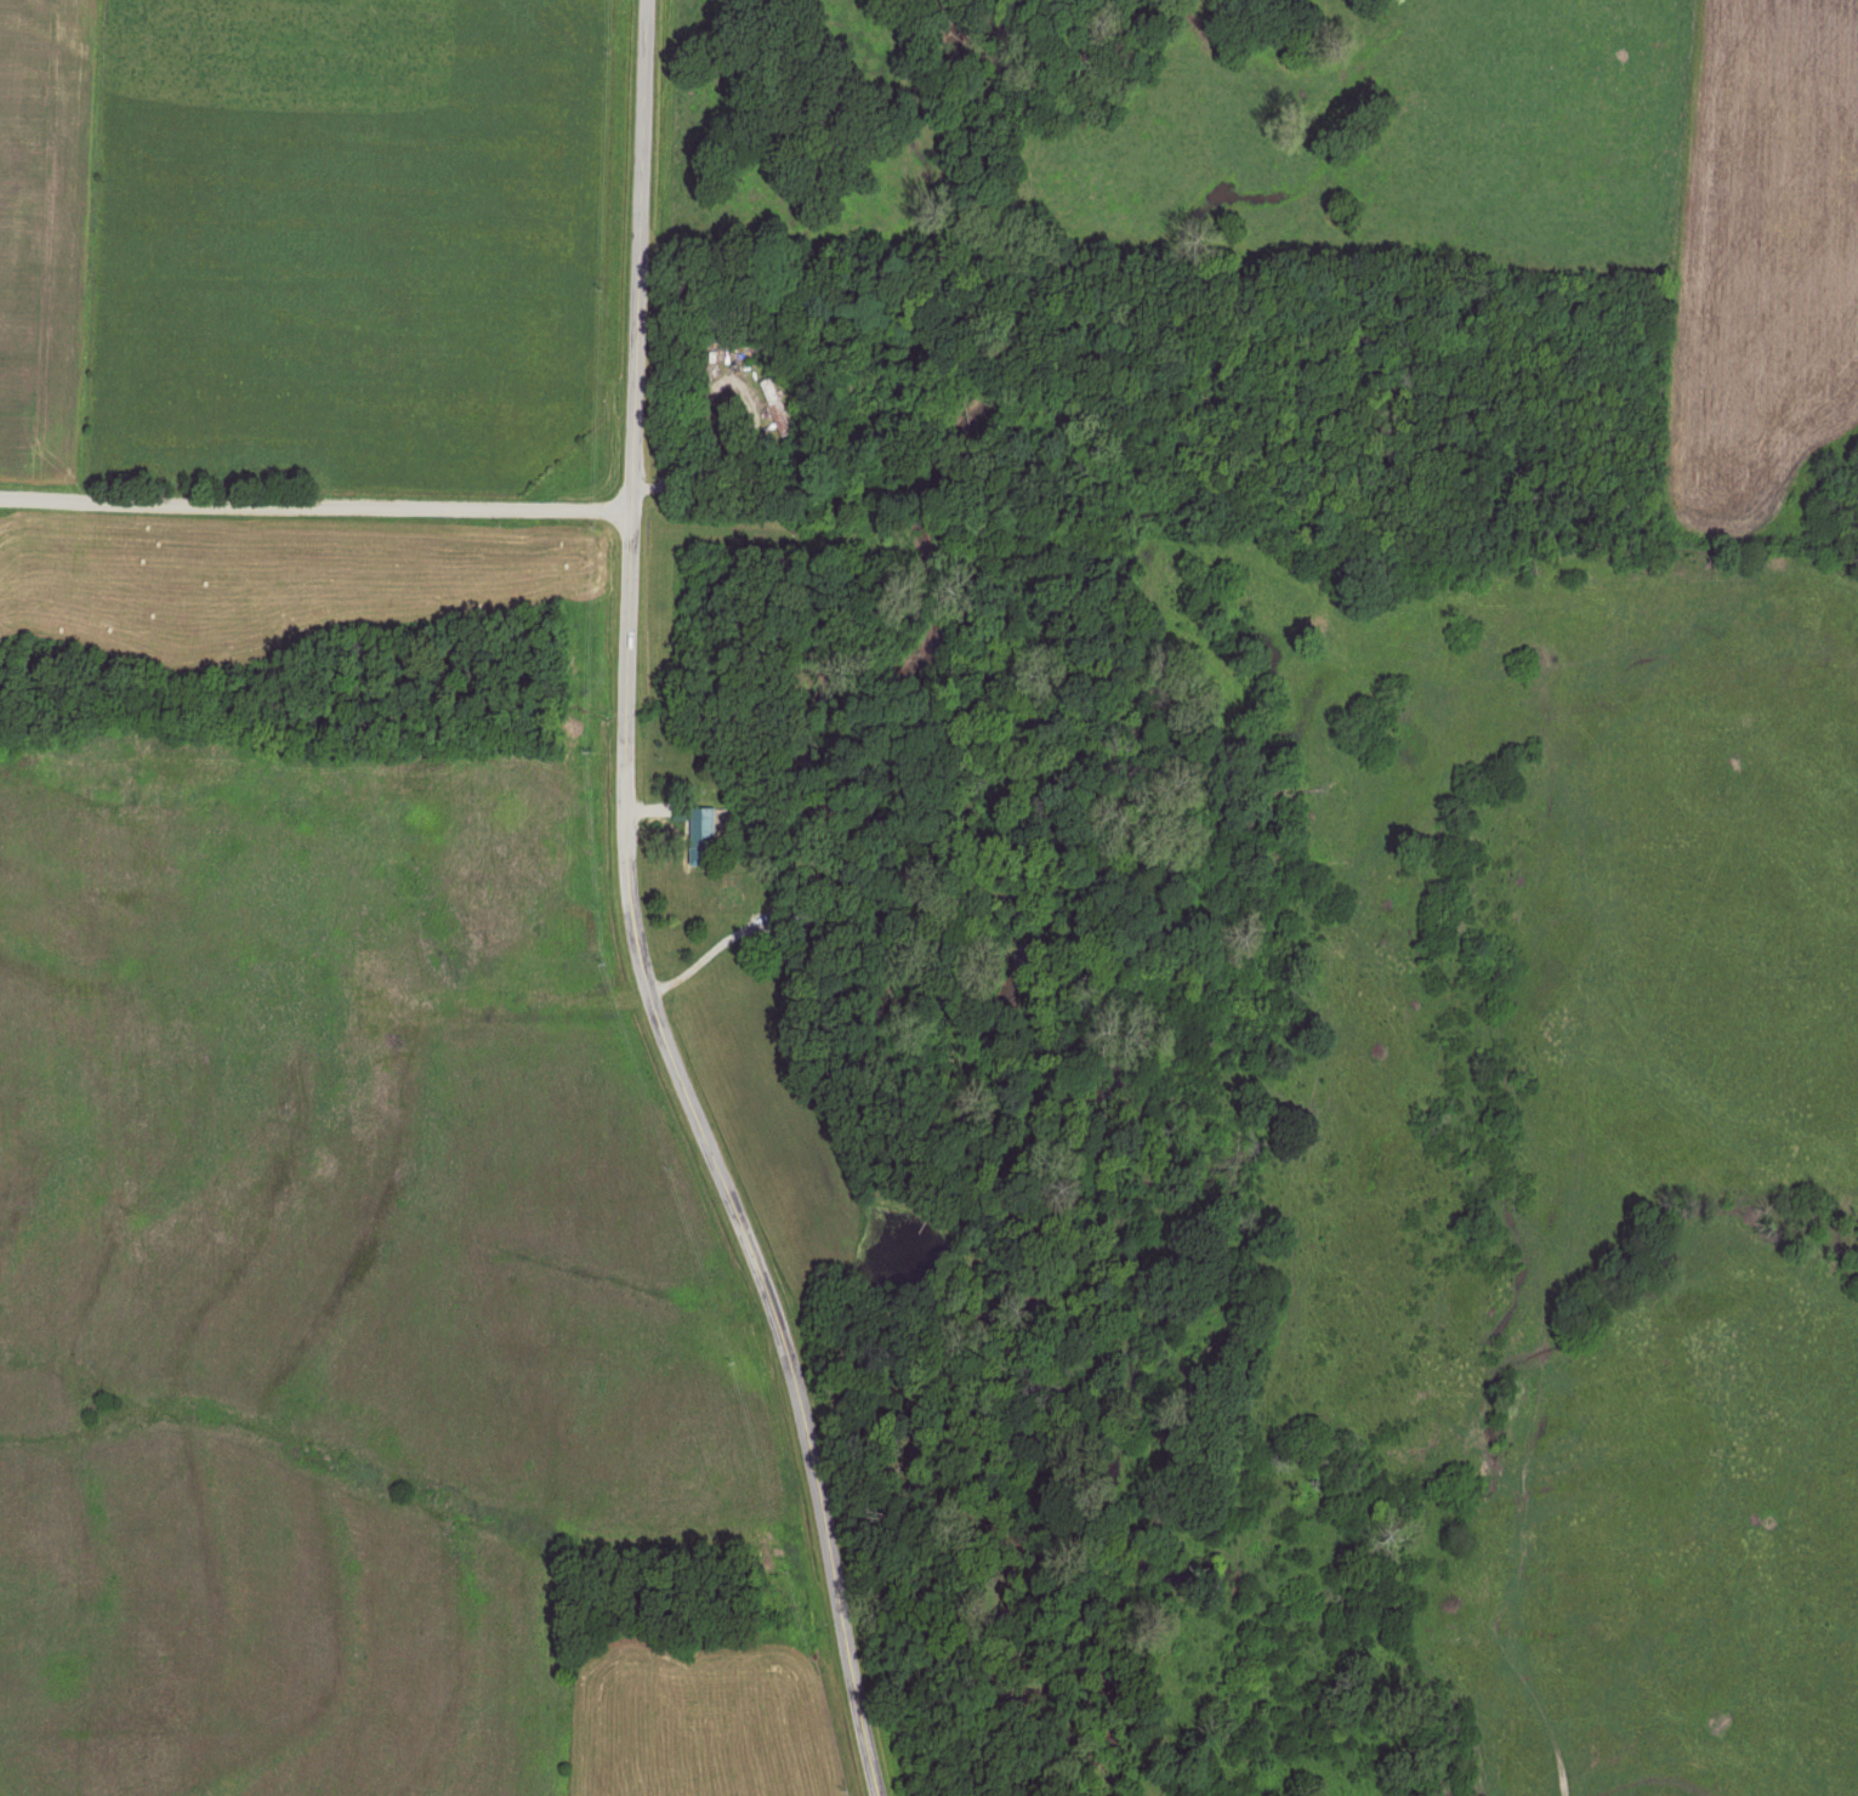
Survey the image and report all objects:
building: (718, 322)
road: (314, 500)
building: (703, 835)
building: (829, 875)
road: (629, 916)

